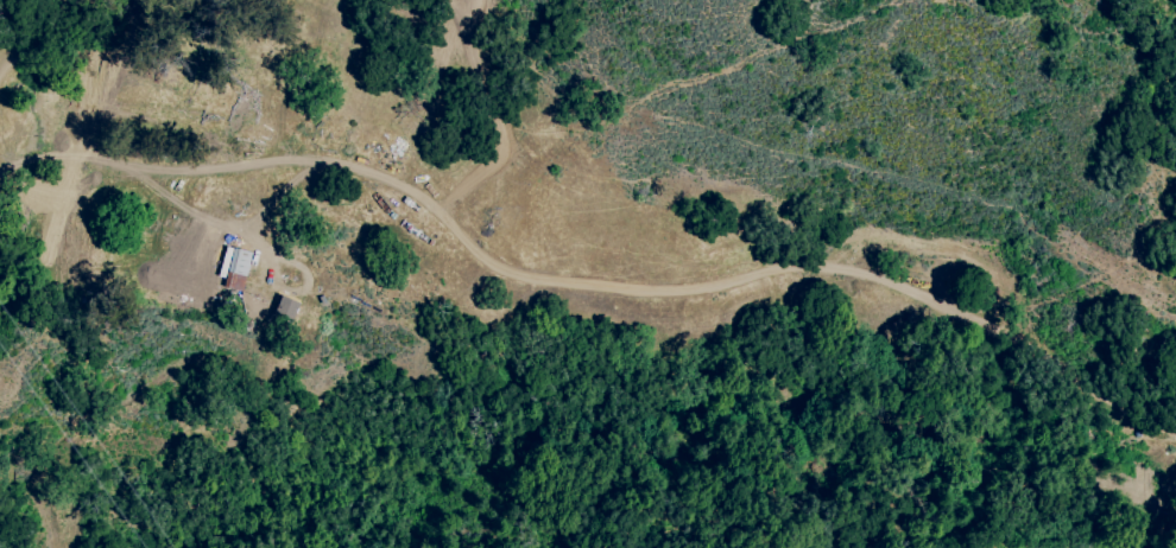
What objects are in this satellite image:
road: (190, 210)
building: (235, 267)
road: (596, 286)
building: (291, 308)

